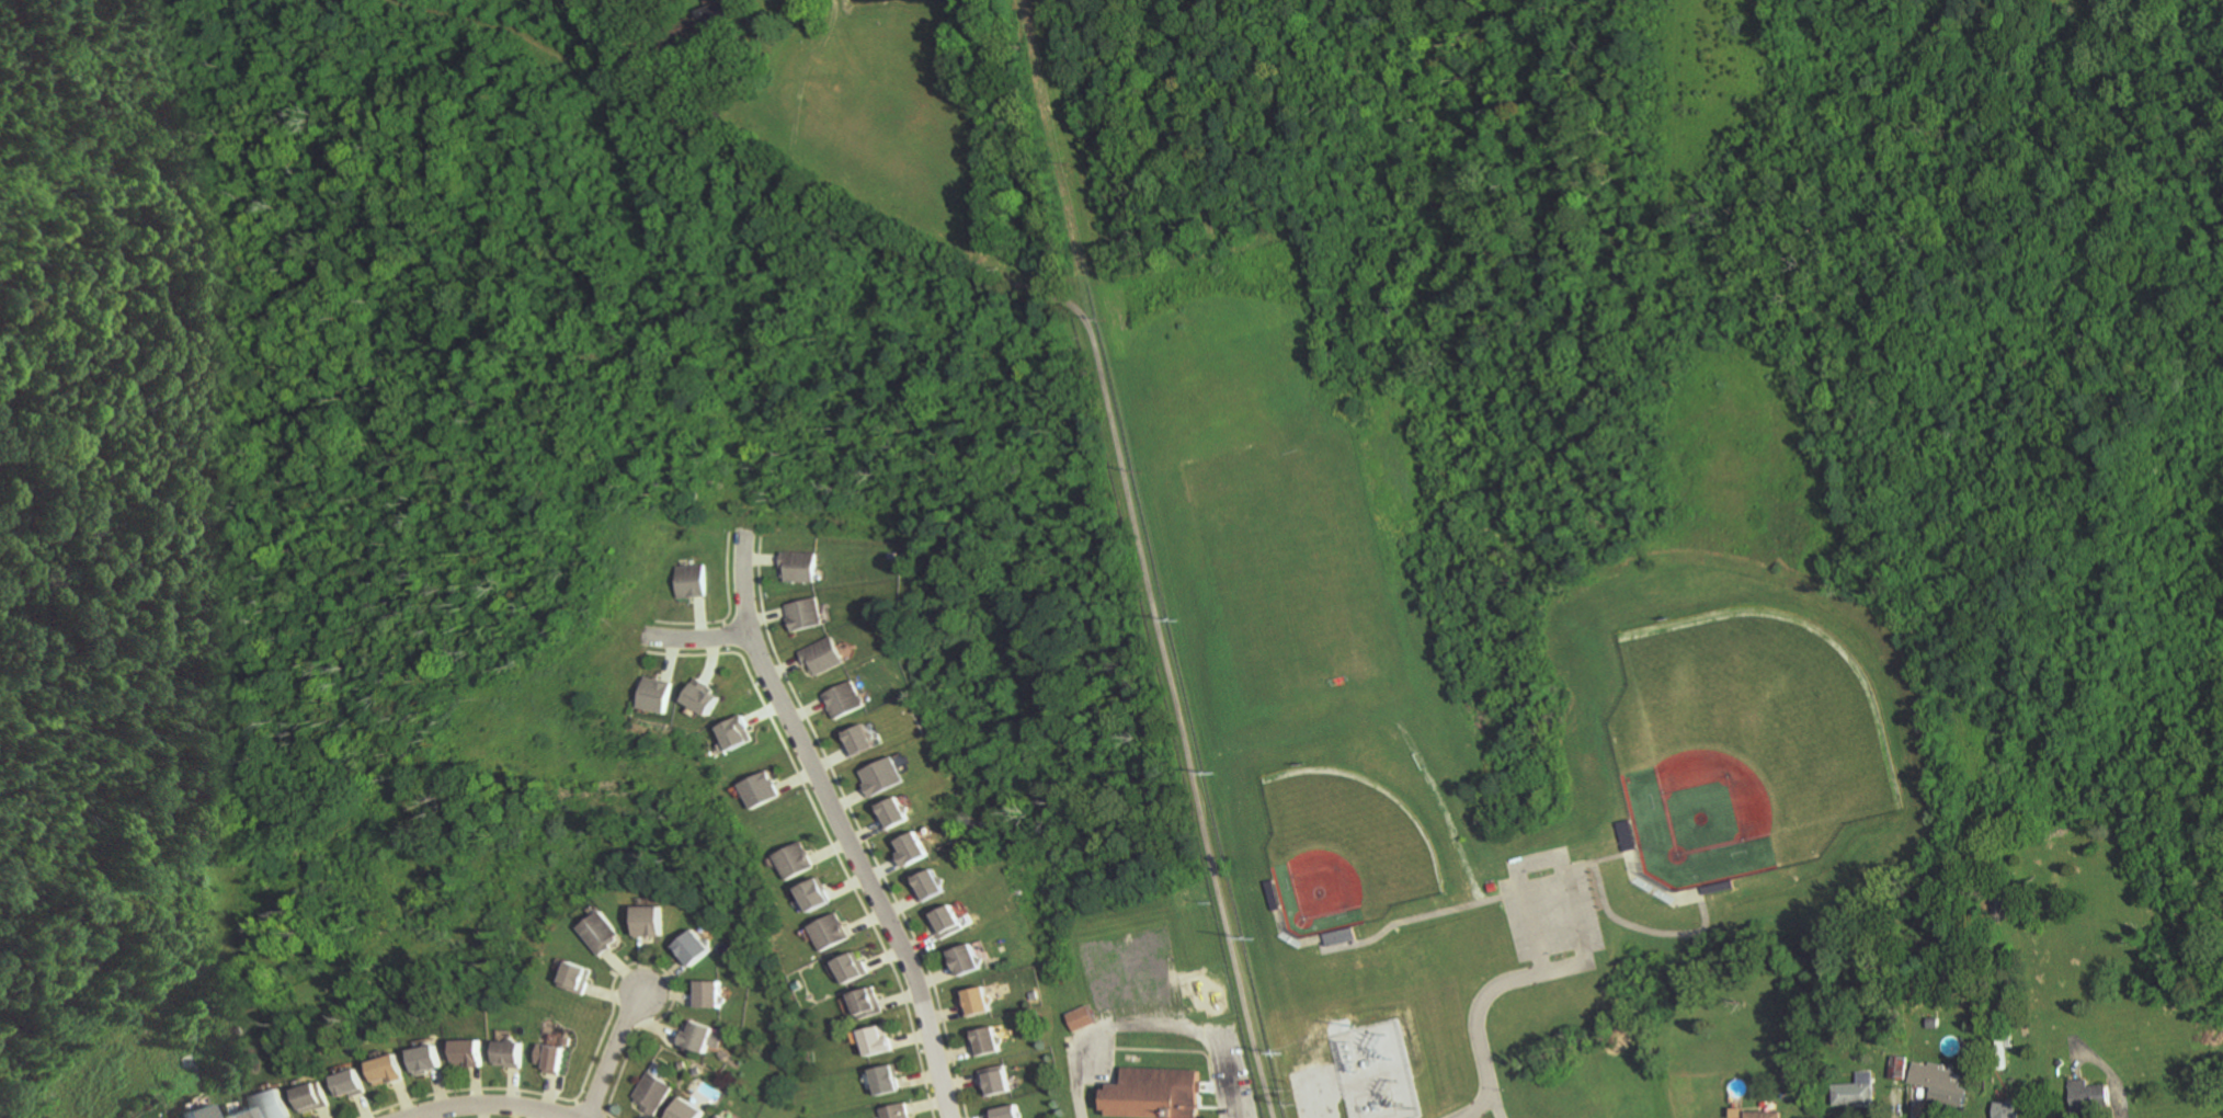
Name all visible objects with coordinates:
building: (699, 20)
road: (1135, 526)
road: (765, 560)
building: (798, 567)
building: (688, 581)
road: (732, 614)
building: (805, 614)
road: (770, 617)
road: (703, 619)
road: (727, 625)
road: (727, 634)
road: (698, 639)
building: (821, 657)
road: (673, 659)
road: (715, 661)
building: (654, 694)
building: (700, 697)
building: (842, 699)
road: (768, 714)
park: (1758, 727)
building: (736, 733)
stadium: (1745, 739)
building: (857, 740)
building: (881, 777)
building: (759, 790)
building: (893, 813)
road: (844, 823)
road: (862, 828)
road: (832, 840)
park: (1354, 841)
stadium: (1346, 845)
building: (911, 849)
building: (794, 860)
road: (1598, 862)
road: (1544, 863)
building: (1635, 866)
building: (928, 885)
building: (813, 895)
building: (1277, 905)
parking lot: (1554, 915)
road: (1417, 919)
building: (647, 922)
building: (946, 922)
road: (1643, 929)
building: (829, 932)
building: (600, 933)
building: (692, 948)
building: (964, 960)
road: (659, 966)
road: (648, 967)
building: (852, 968)
building: (575, 978)
road: (668, 980)
road: (1494, 989)
building: (707, 995)
building: (976, 1002)
building: (867, 1003)
road: (1142, 1012)
building: (1081, 1018)
building: (700, 1038)
building: (557, 1040)
building: (876, 1041)
building: (985, 1041)
building: (466, 1053)
building: (508, 1054)
road: (616, 1054)
building: (549, 1059)
building: (423, 1061)
building: (1897, 1068)
building: (384, 1071)
power substation: (1380, 1073)
building: (886, 1080)
building: (994, 1081)
road: (2111, 1081)
building: (347, 1084)
building: (1938, 1084)
road: (469, 1090)
building: (1855, 1092)
building: (651, 1093)
building: (1159, 1095)
building: (2089, 1096)
building: (311, 1097)
road: (1495, 1102)
road: (490, 1103)
road: (578, 1103)
building: (270, 1105)
road: (1483, 1105)
building: (684, 1109)
road: (592, 1110)
building: (2006, 1110)
building: (897, 1111)
building: (191, 1113)
building: (1005, 1113)
building: (235, 1114)
road: (608, 1115)
building: (1762, 1115)
road: (612, 1116)
building: (715, 1117)

